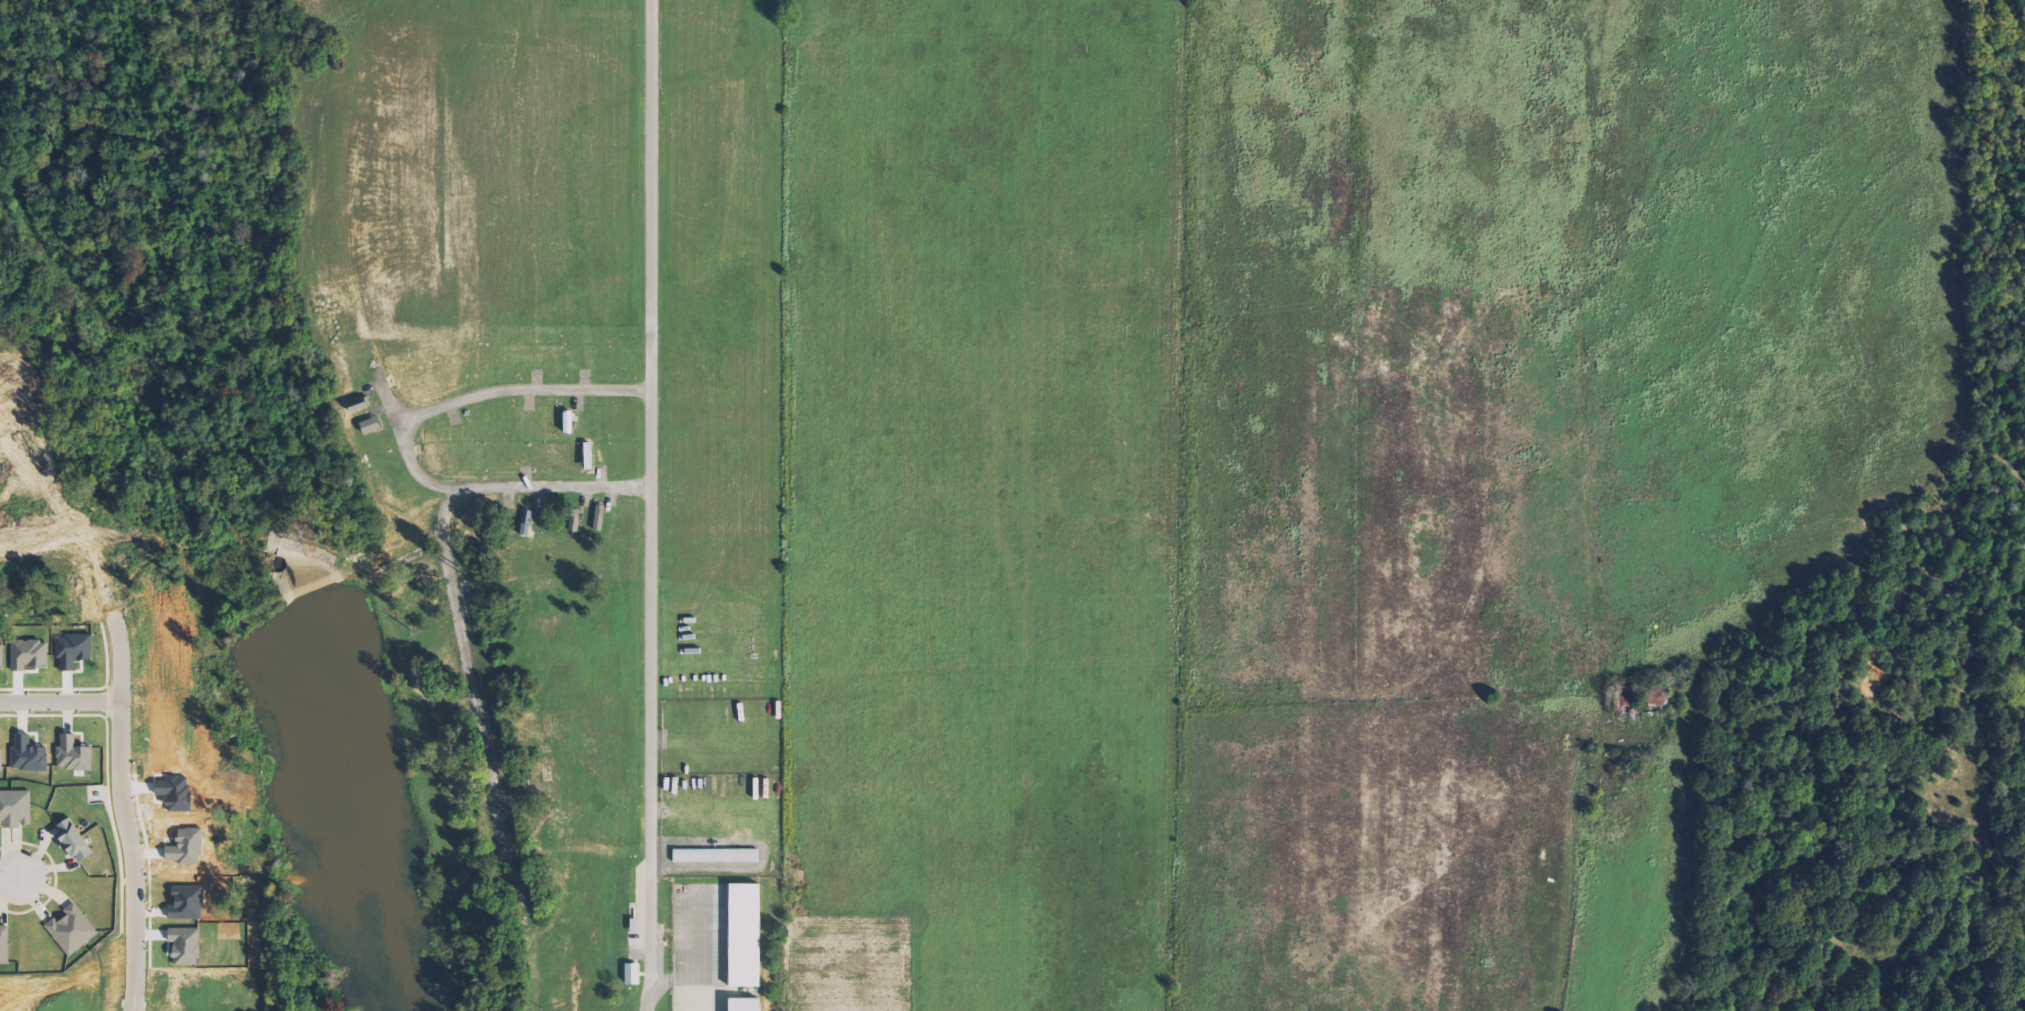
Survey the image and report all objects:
building: (360, 404)
building: (372, 425)
road: (650, 505)
building: (600, 517)
building: (576, 520)
building: (74, 651)
building: (30, 654)
building: (3, 655)
road: (54, 703)
building: (29, 755)
building: (74, 755)
building: (1, 759)
building: (16, 808)
building: (75, 841)
road: (129, 854)
building: (717, 856)
road: (17, 877)
building: (72, 930)
building: (746, 936)
building: (5, 945)
building: (633, 974)
building: (746, 1005)

